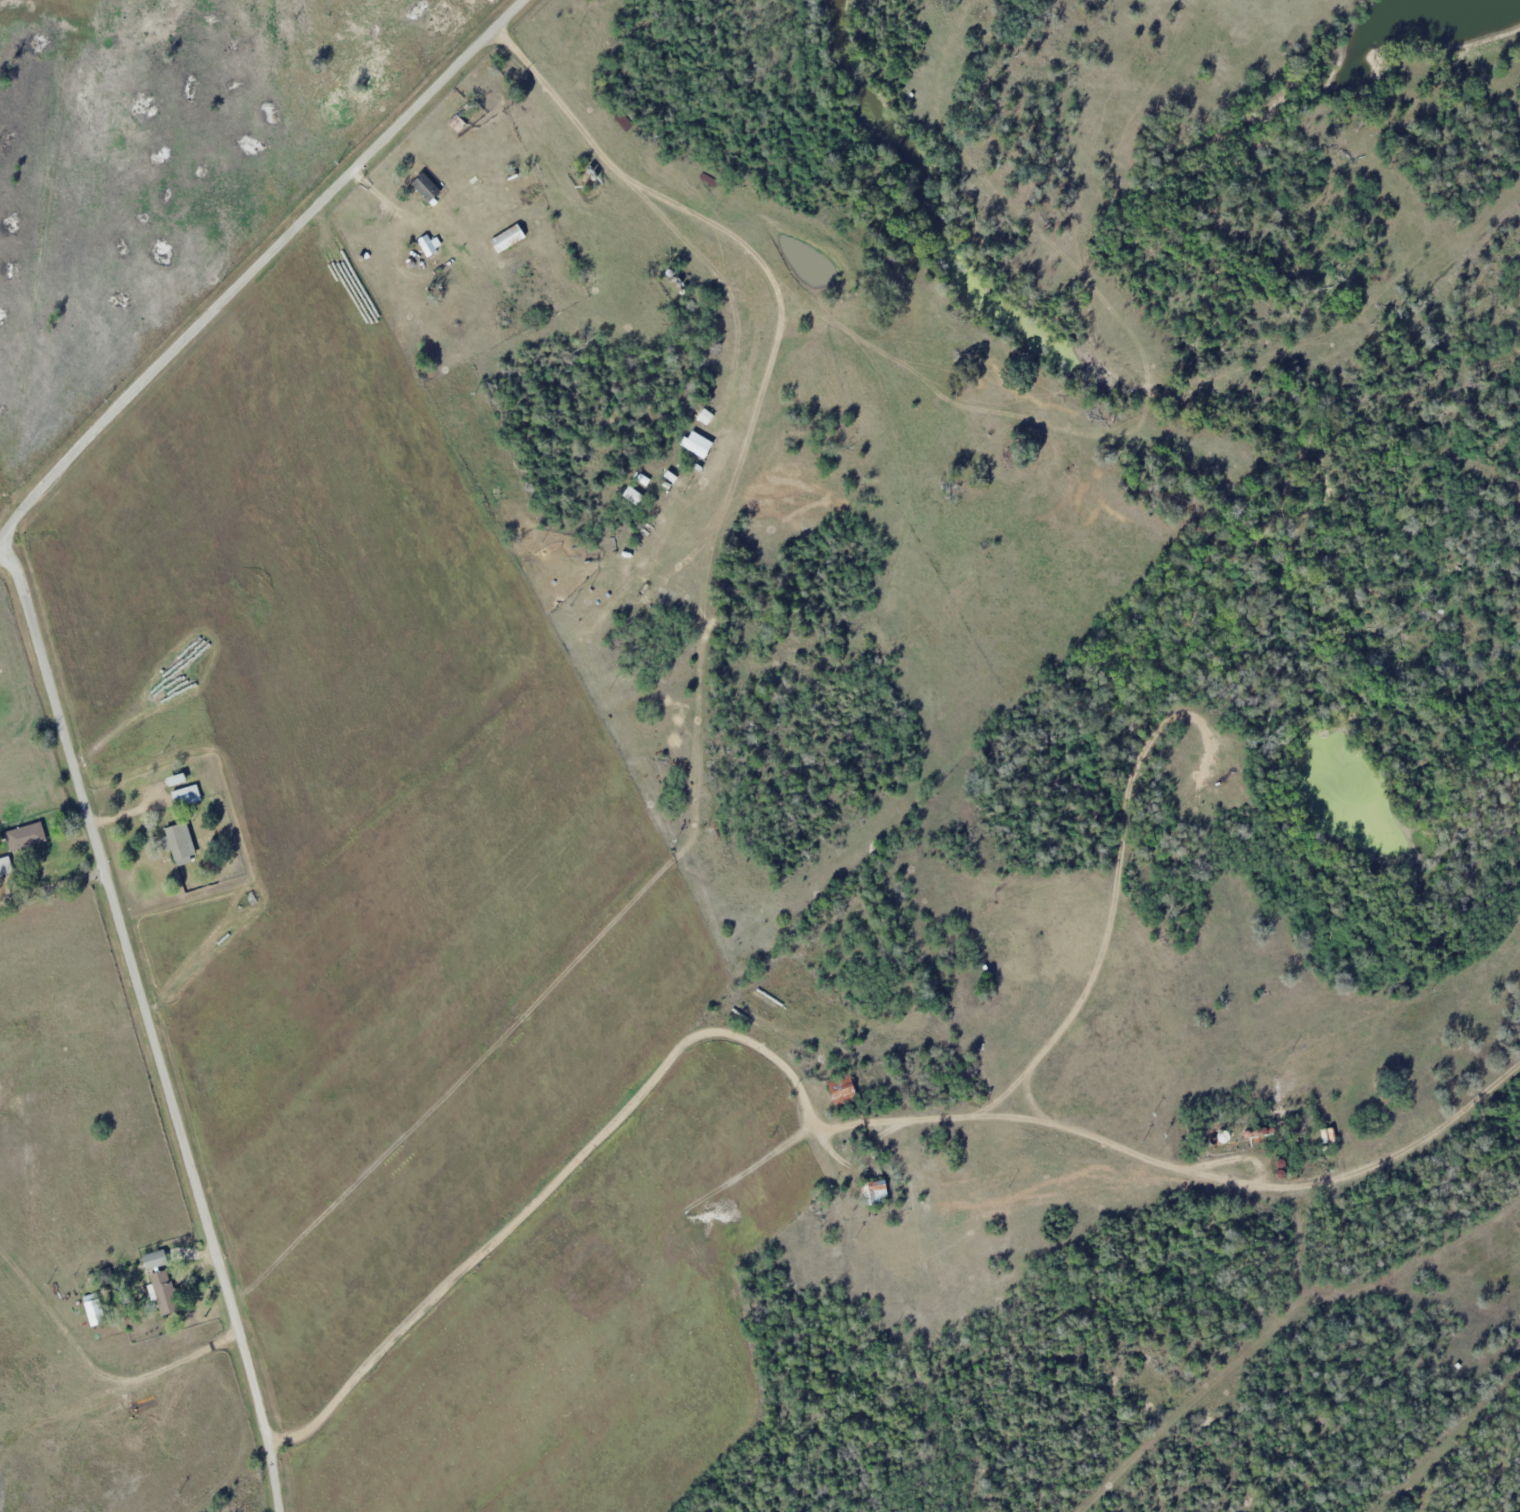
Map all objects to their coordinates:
building: (422, 187)
building: (505, 238)
building: (428, 242)
road: (258, 267)
building: (692, 448)
building: (189, 796)
road: (134, 812)
building: (27, 836)
building: (181, 841)
building: (6, 866)
road: (53, 886)
road: (1113, 889)
road: (153, 1021)
building: (839, 1090)
road: (1039, 1122)
road: (573, 1161)
building: (873, 1192)
building: (158, 1261)
building: (165, 1294)
building: (96, 1309)

